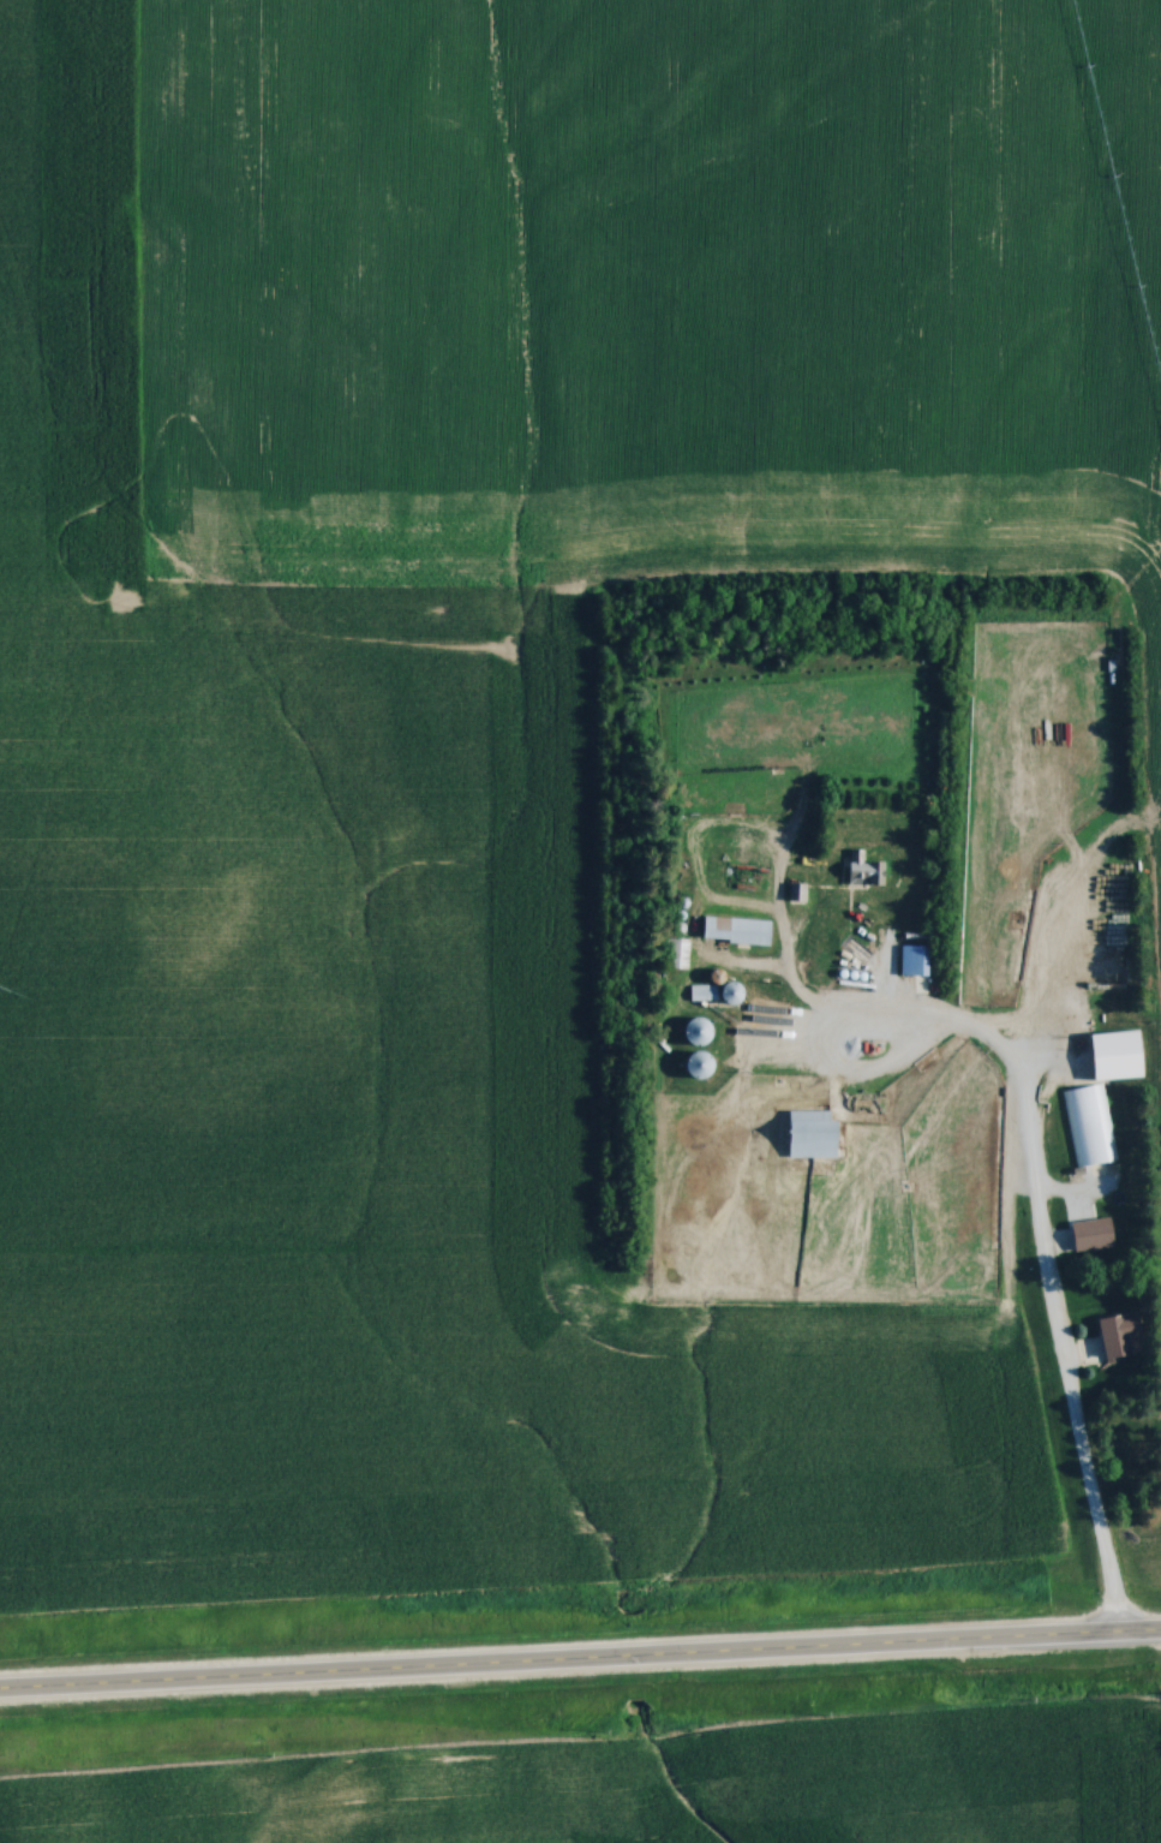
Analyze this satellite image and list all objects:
building: (868, 870)
building: (797, 891)
building: (737, 930)
building: (683, 953)
building: (915, 960)
building: (702, 994)
road: (874, 1027)
building: (701, 1032)
building: (704, 1064)
building: (1088, 1126)
building: (815, 1134)
road: (1048, 1314)
building: (1124, 1335)
road: (580, 1663)

